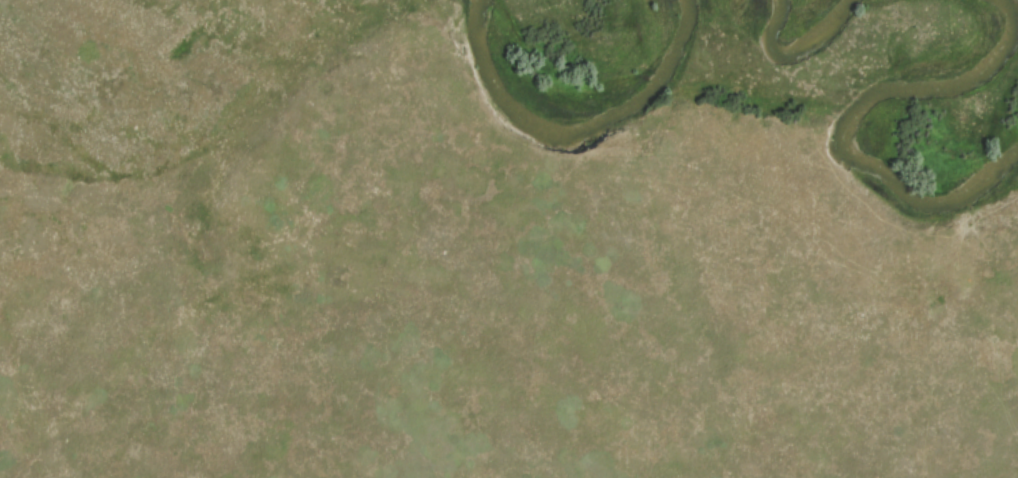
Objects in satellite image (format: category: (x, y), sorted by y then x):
river: (795, 42)
river: (852, 122)
river: (577, 126)

